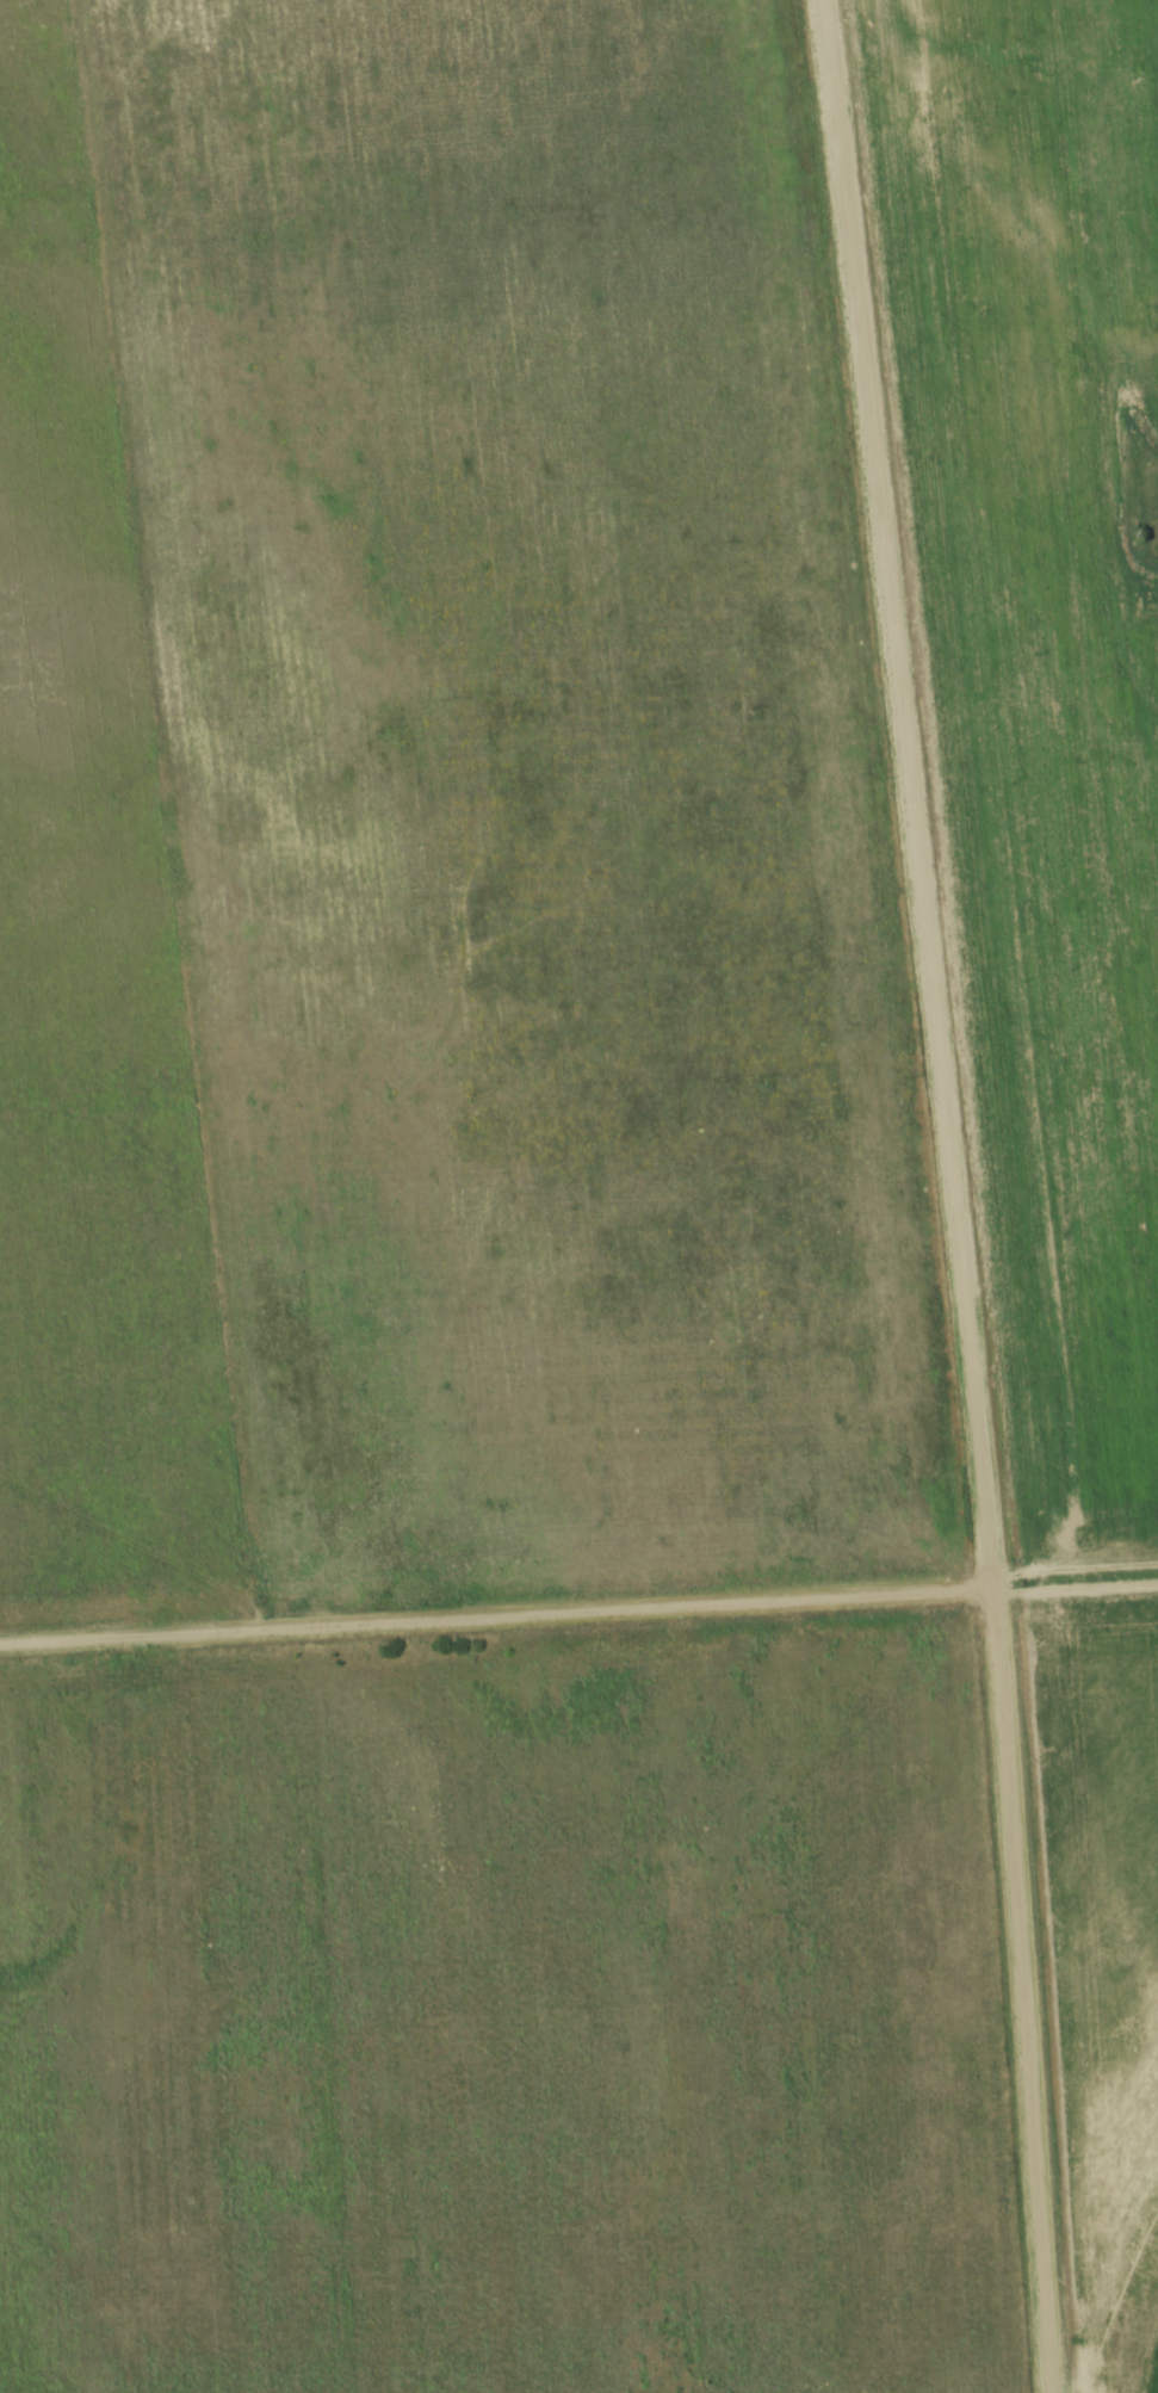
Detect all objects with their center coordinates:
road: (953, 1194)
road: (497, 1621)

